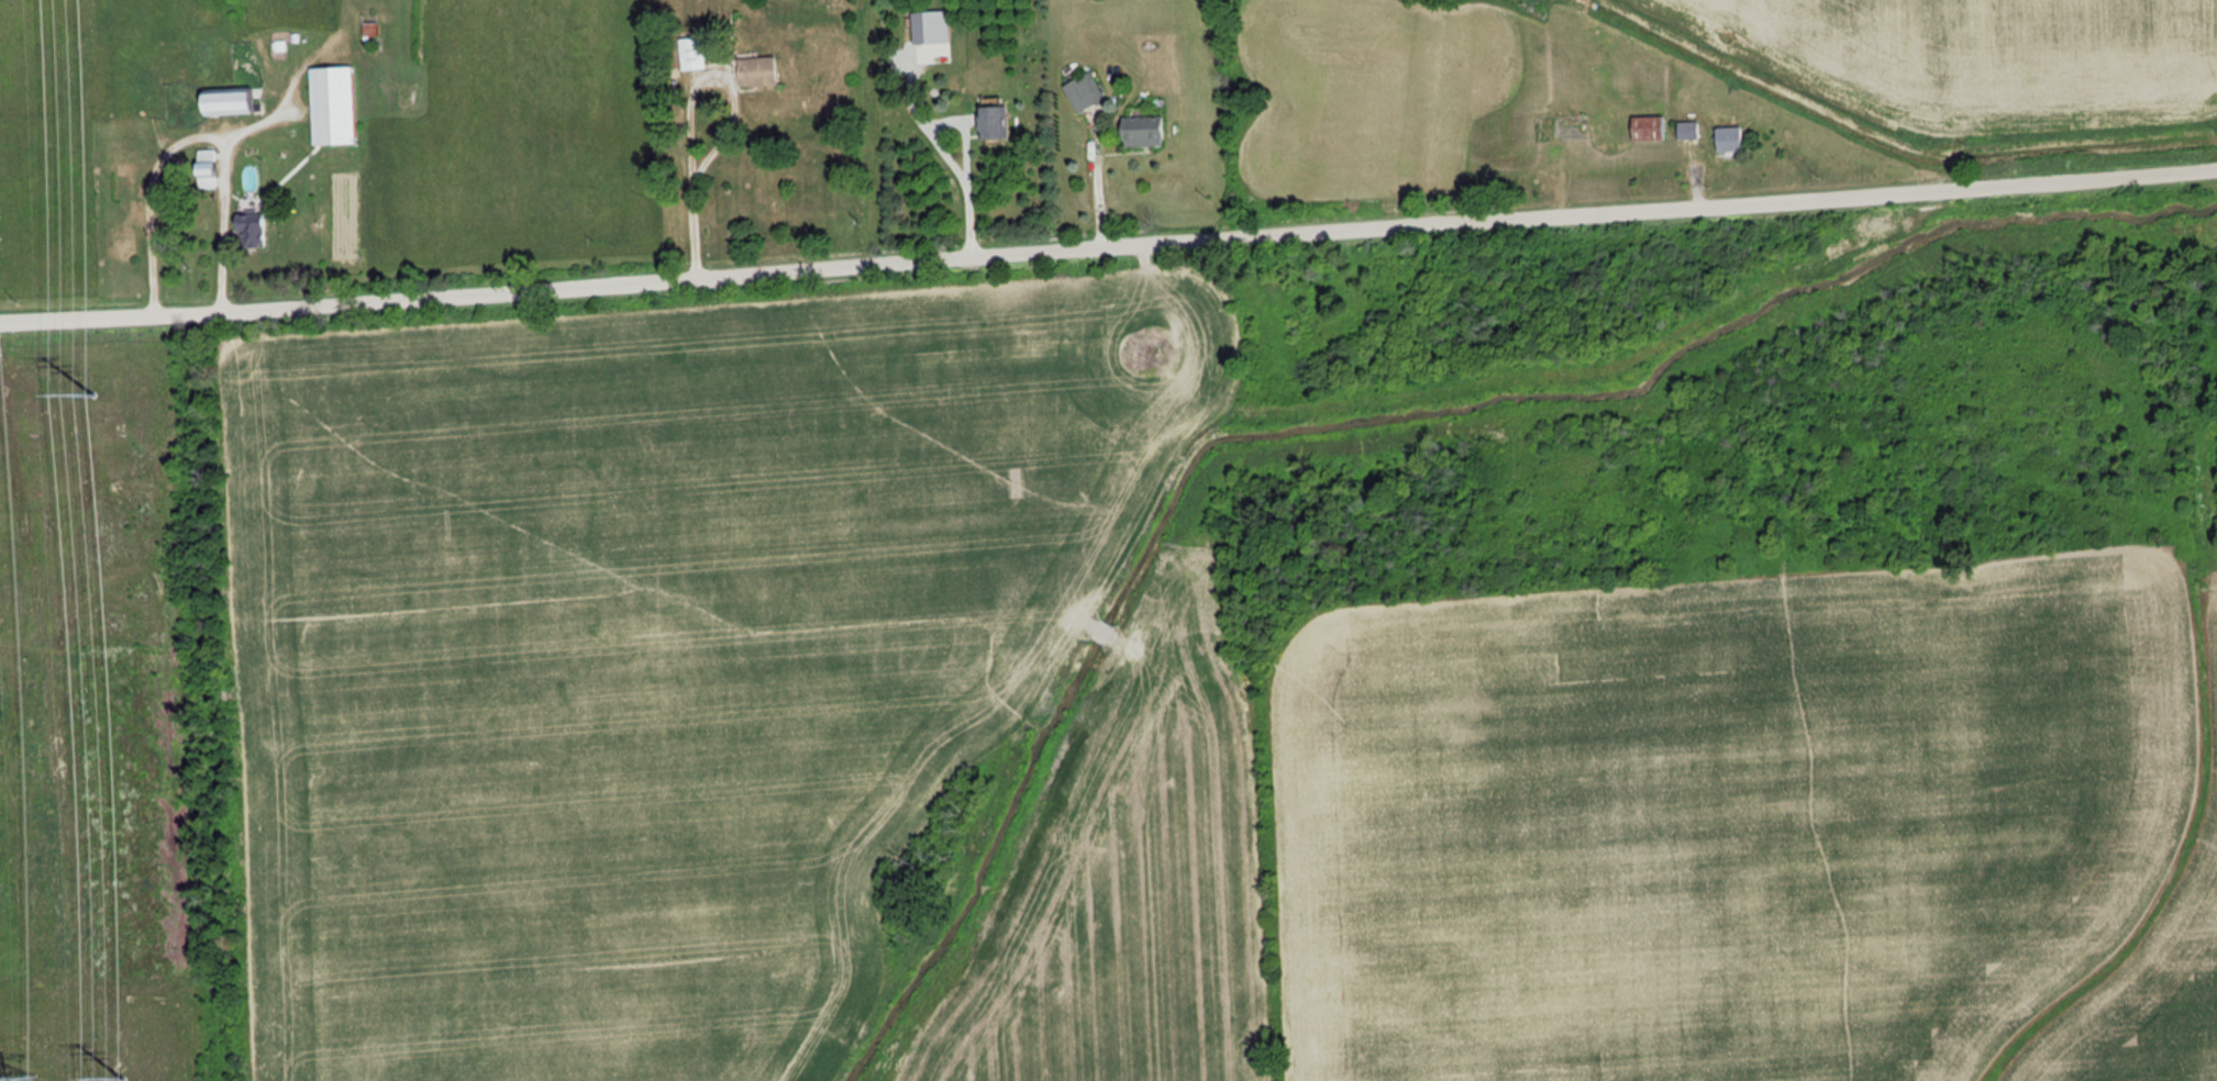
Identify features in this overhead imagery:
building: (365, 30)
building: (692, 53)
building: (757, 71)
building: (1083, 92)
building: (223, 101)
building: (332, 105)
road: (735, 116)
building: (995, 122)
building: (1648, 127)
building: (122, 130)
building: (1687, 130)
building: (1139, 132)
building: (1727, 138)
road: (964, 147)
building: (204, 168)
building: (125, 176)
building: (248, 230)
road: (1108, 253)
building: (1141, 349)
power tower: (107, 393)
building: (2170, 1057)

